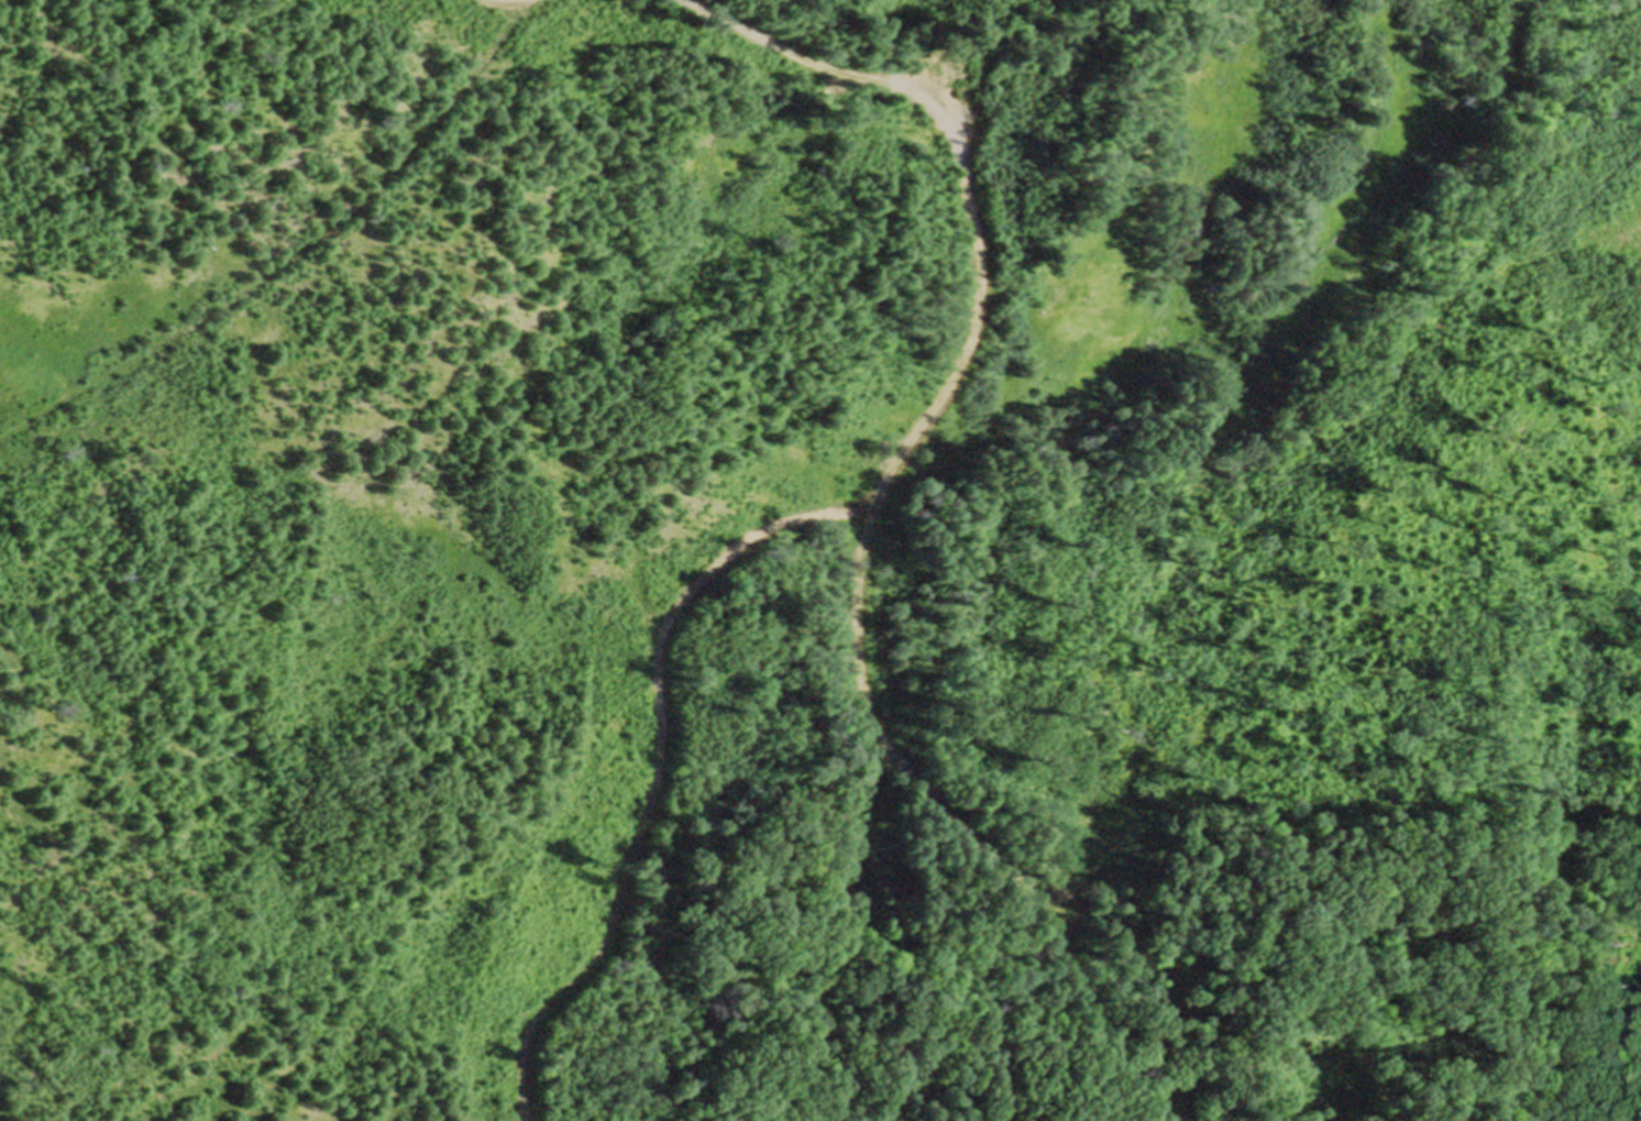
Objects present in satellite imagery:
road: (298, 254)
road: (834, 512)
road: (858, 625)

